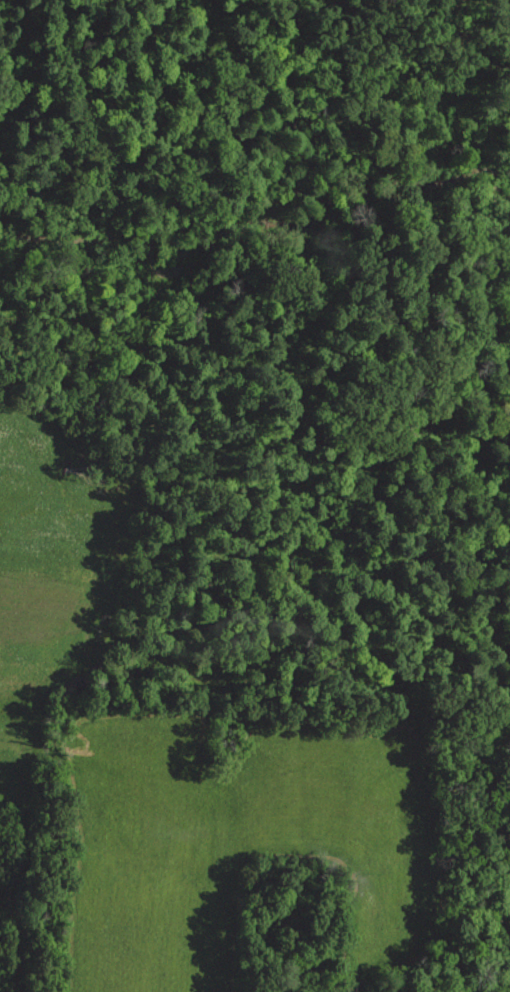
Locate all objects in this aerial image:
road: (42, 603)

